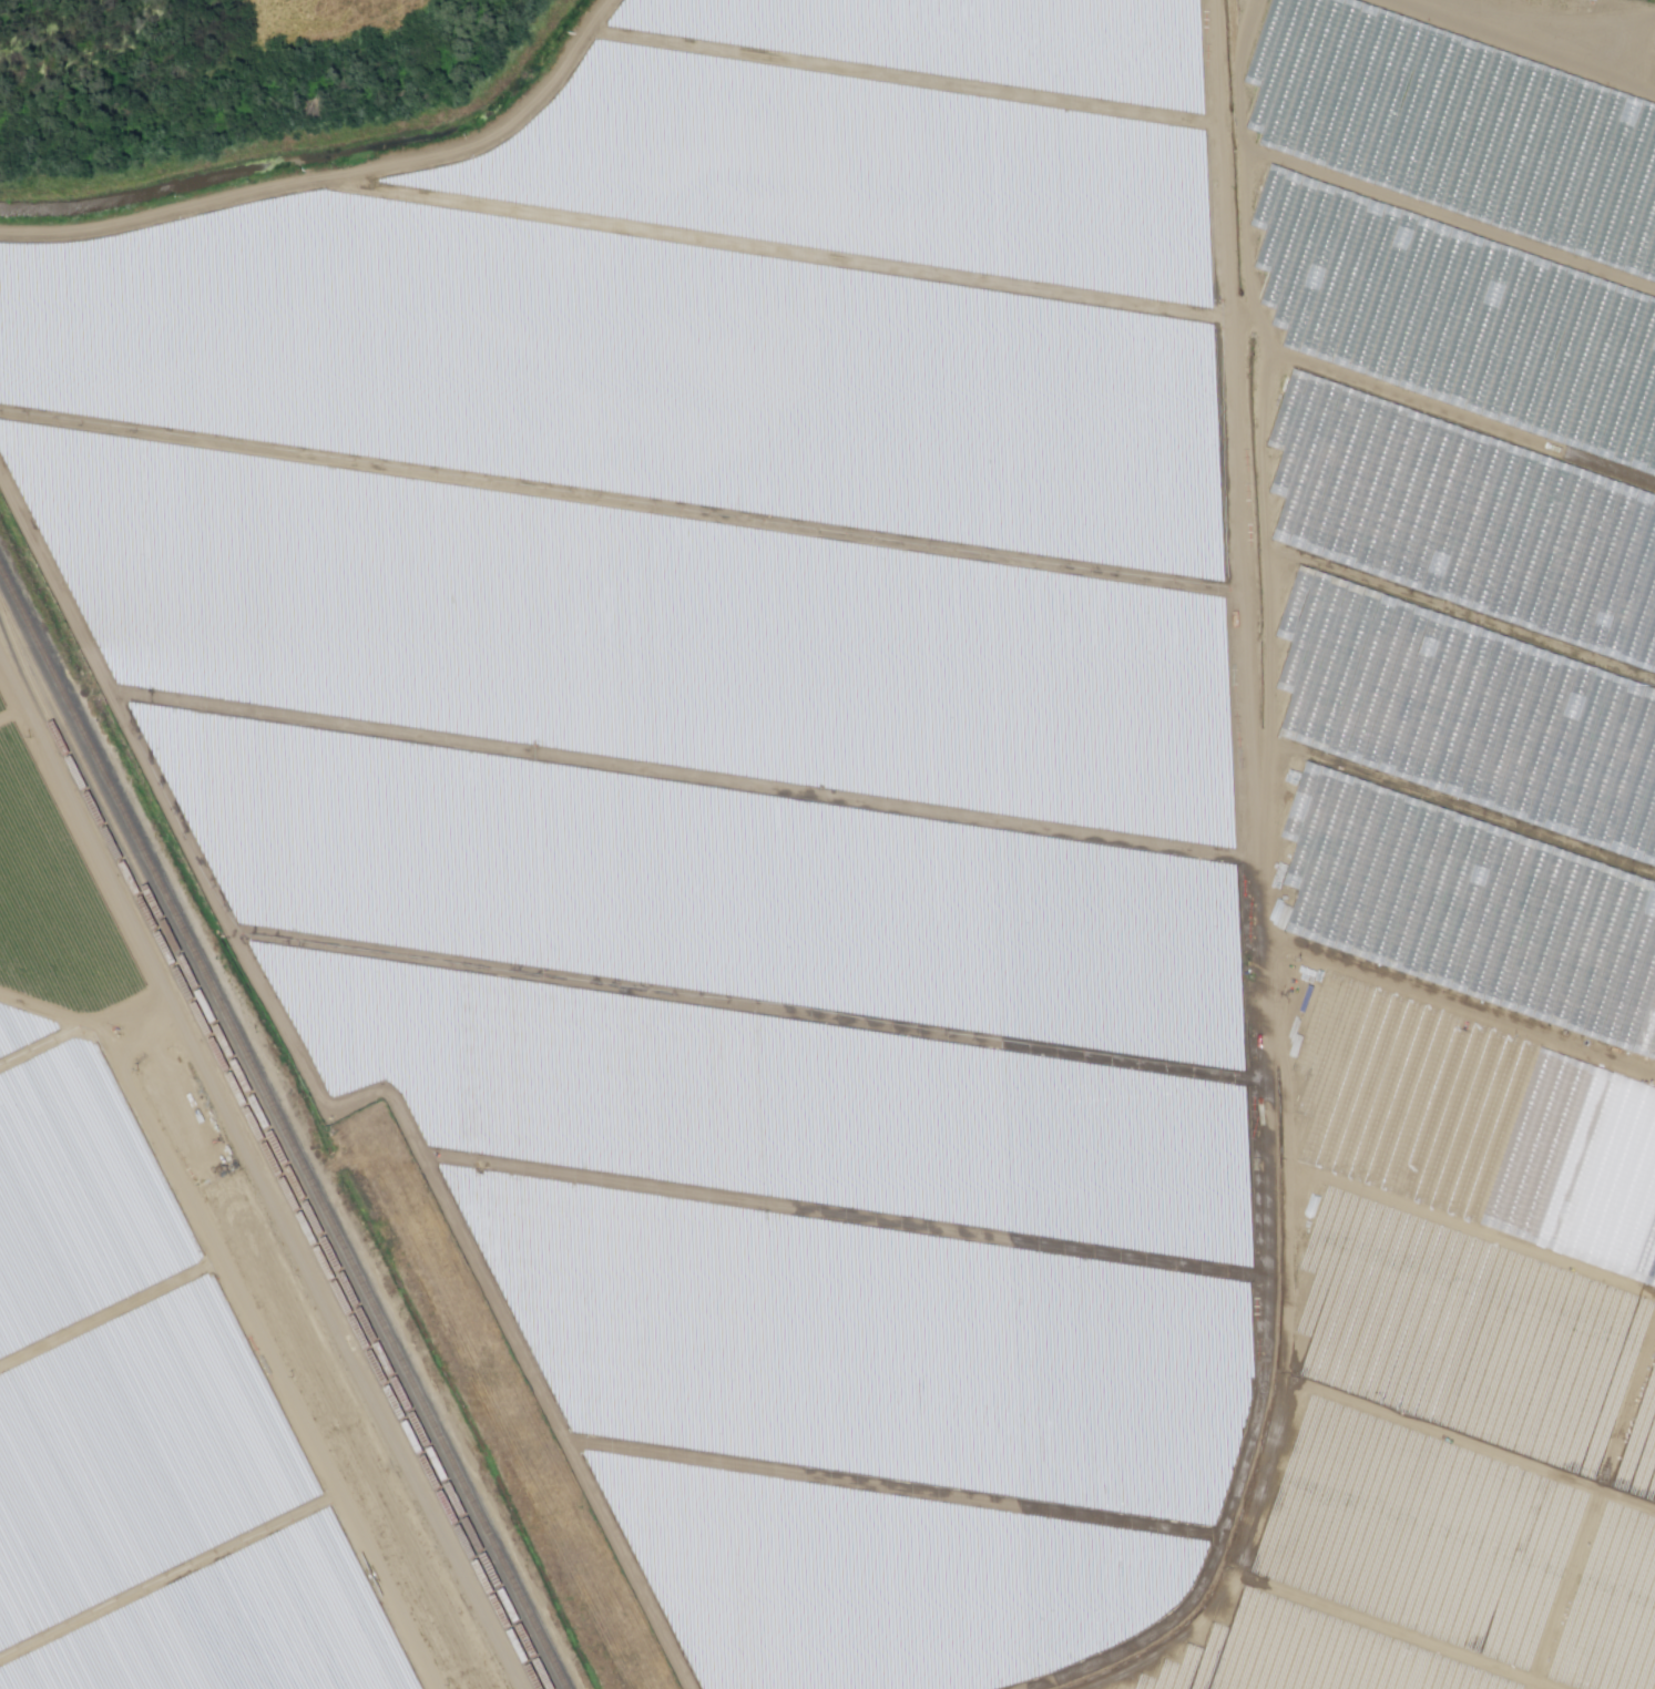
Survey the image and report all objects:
crop: (880, 142)
crop: (1463, 195)
crop: (637, 372)
crop: (641, 622)
crop: (1463, 712)
crop: (13, 744)
crop: (58, 910)
crop: (739, 993)
railway: (282, 1129)
railway: (266, 1145)
crop: (90, 1157)
crop: (215, 1175)
road: (243, 1309)
road: (109, 1311)
crop: (1468, 1313)
crop: (152, 1384)
crop: (338, 1422)
crop: (826, 1437)
road: (168, 1575)
crop: (190, 1591)
crop: (438, 1618)
crop: (1365, 1640)
crop: (37, 1680)

